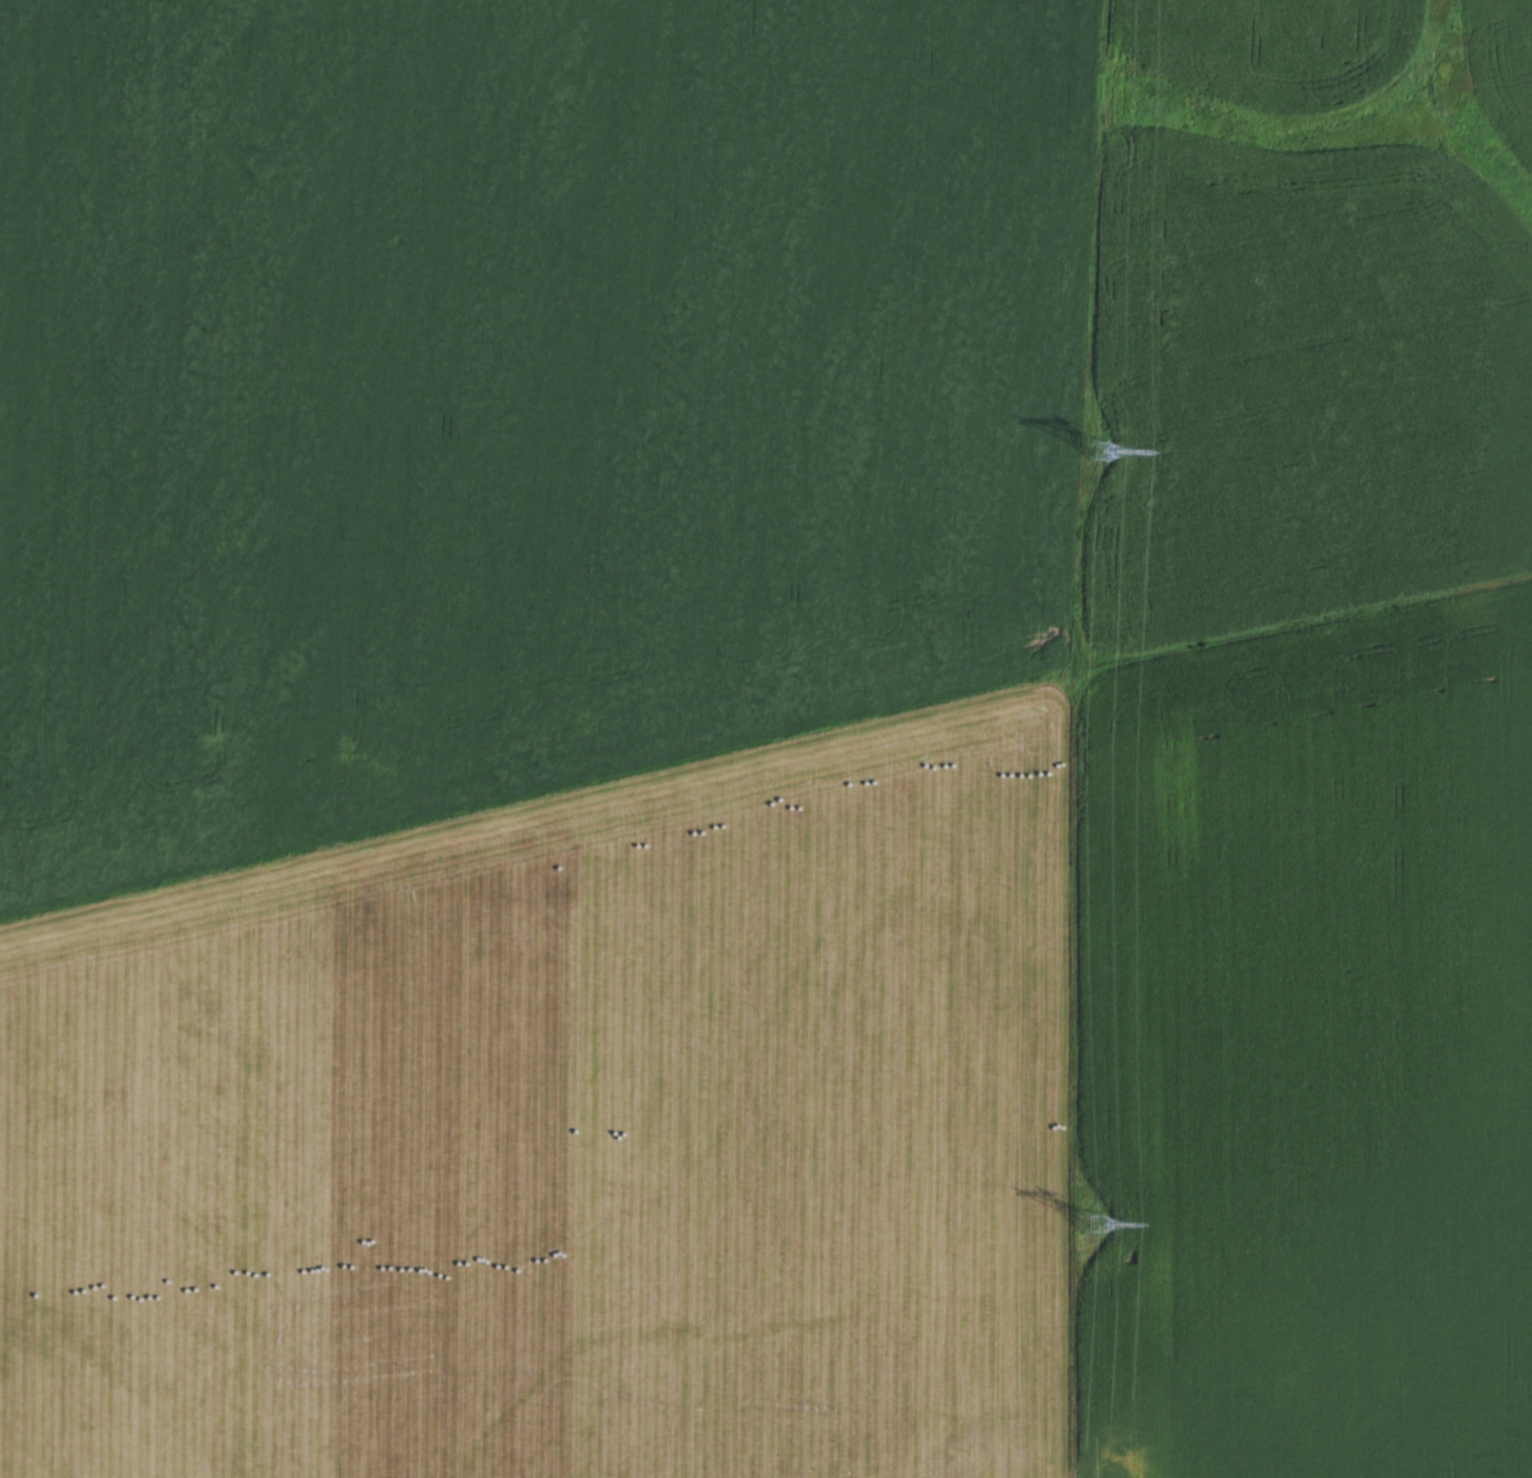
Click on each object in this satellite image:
power tower: (1099, 455)
power tower: (1089, 1229)

